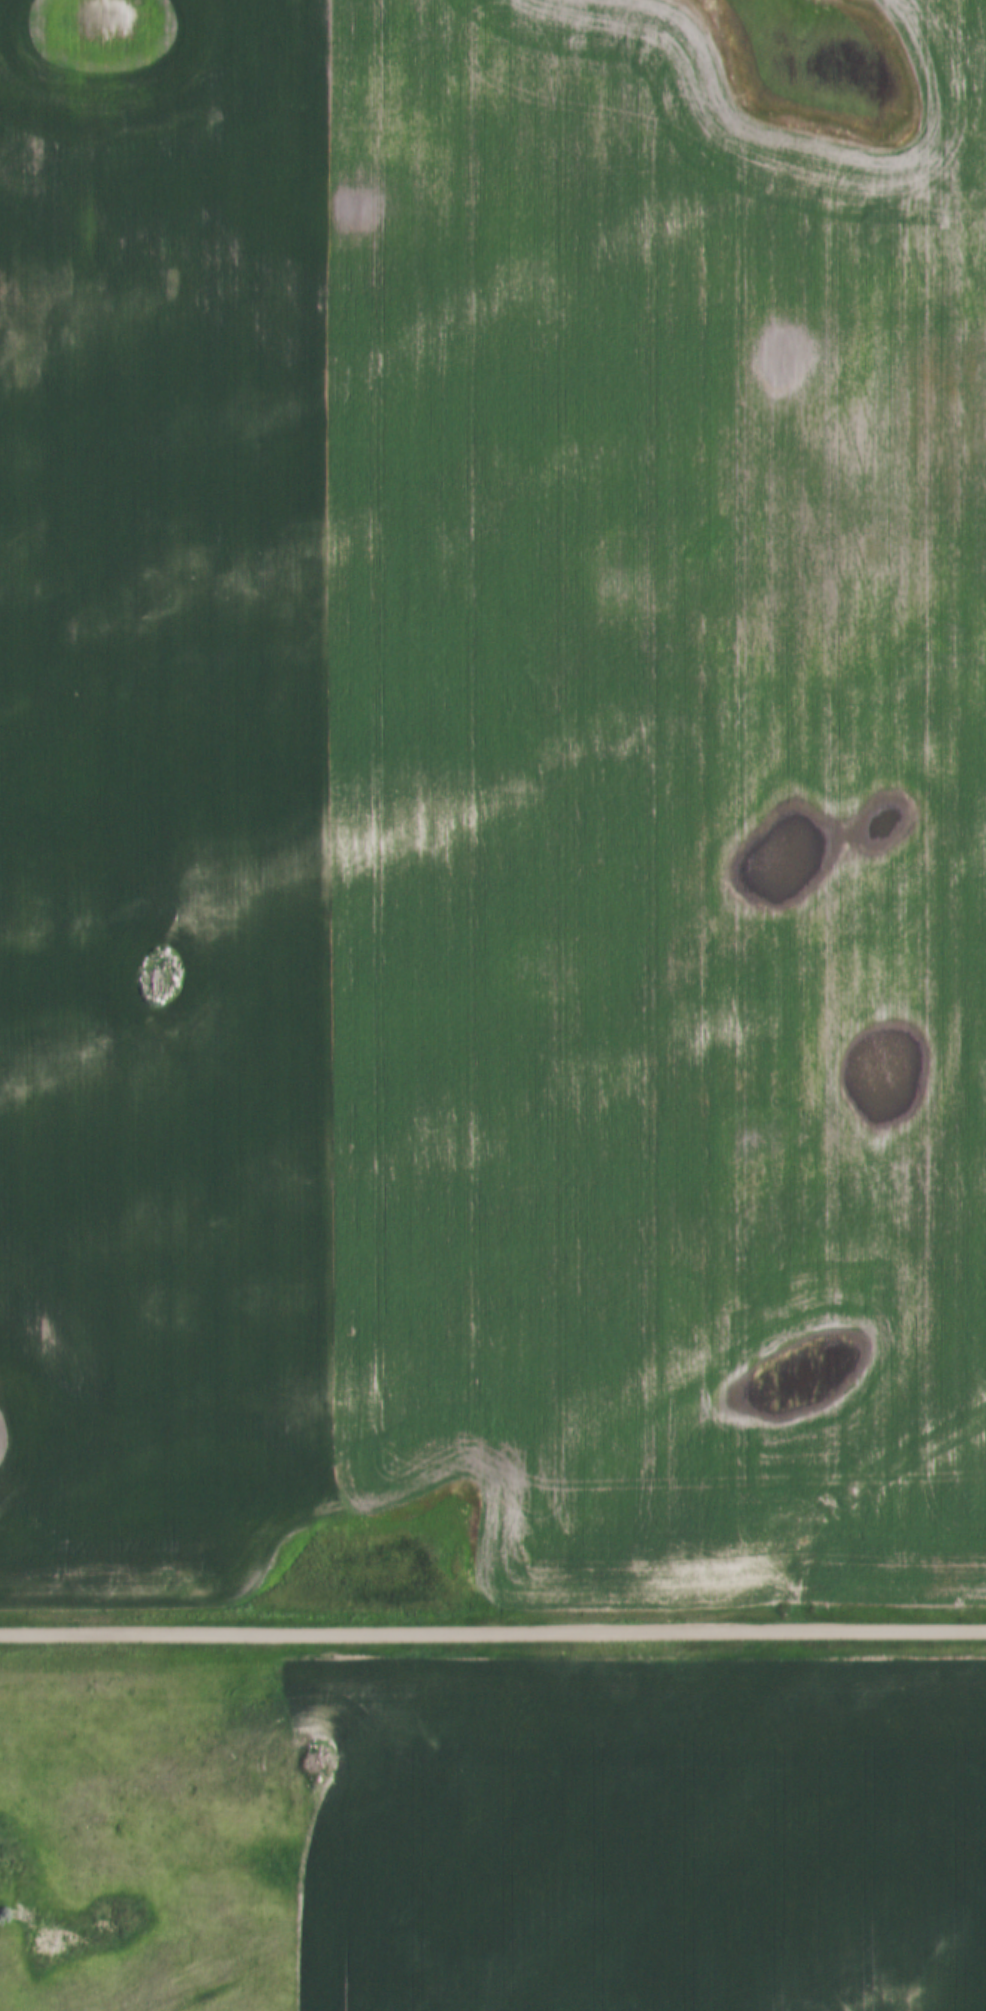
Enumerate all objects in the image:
road: (492, 1631)

